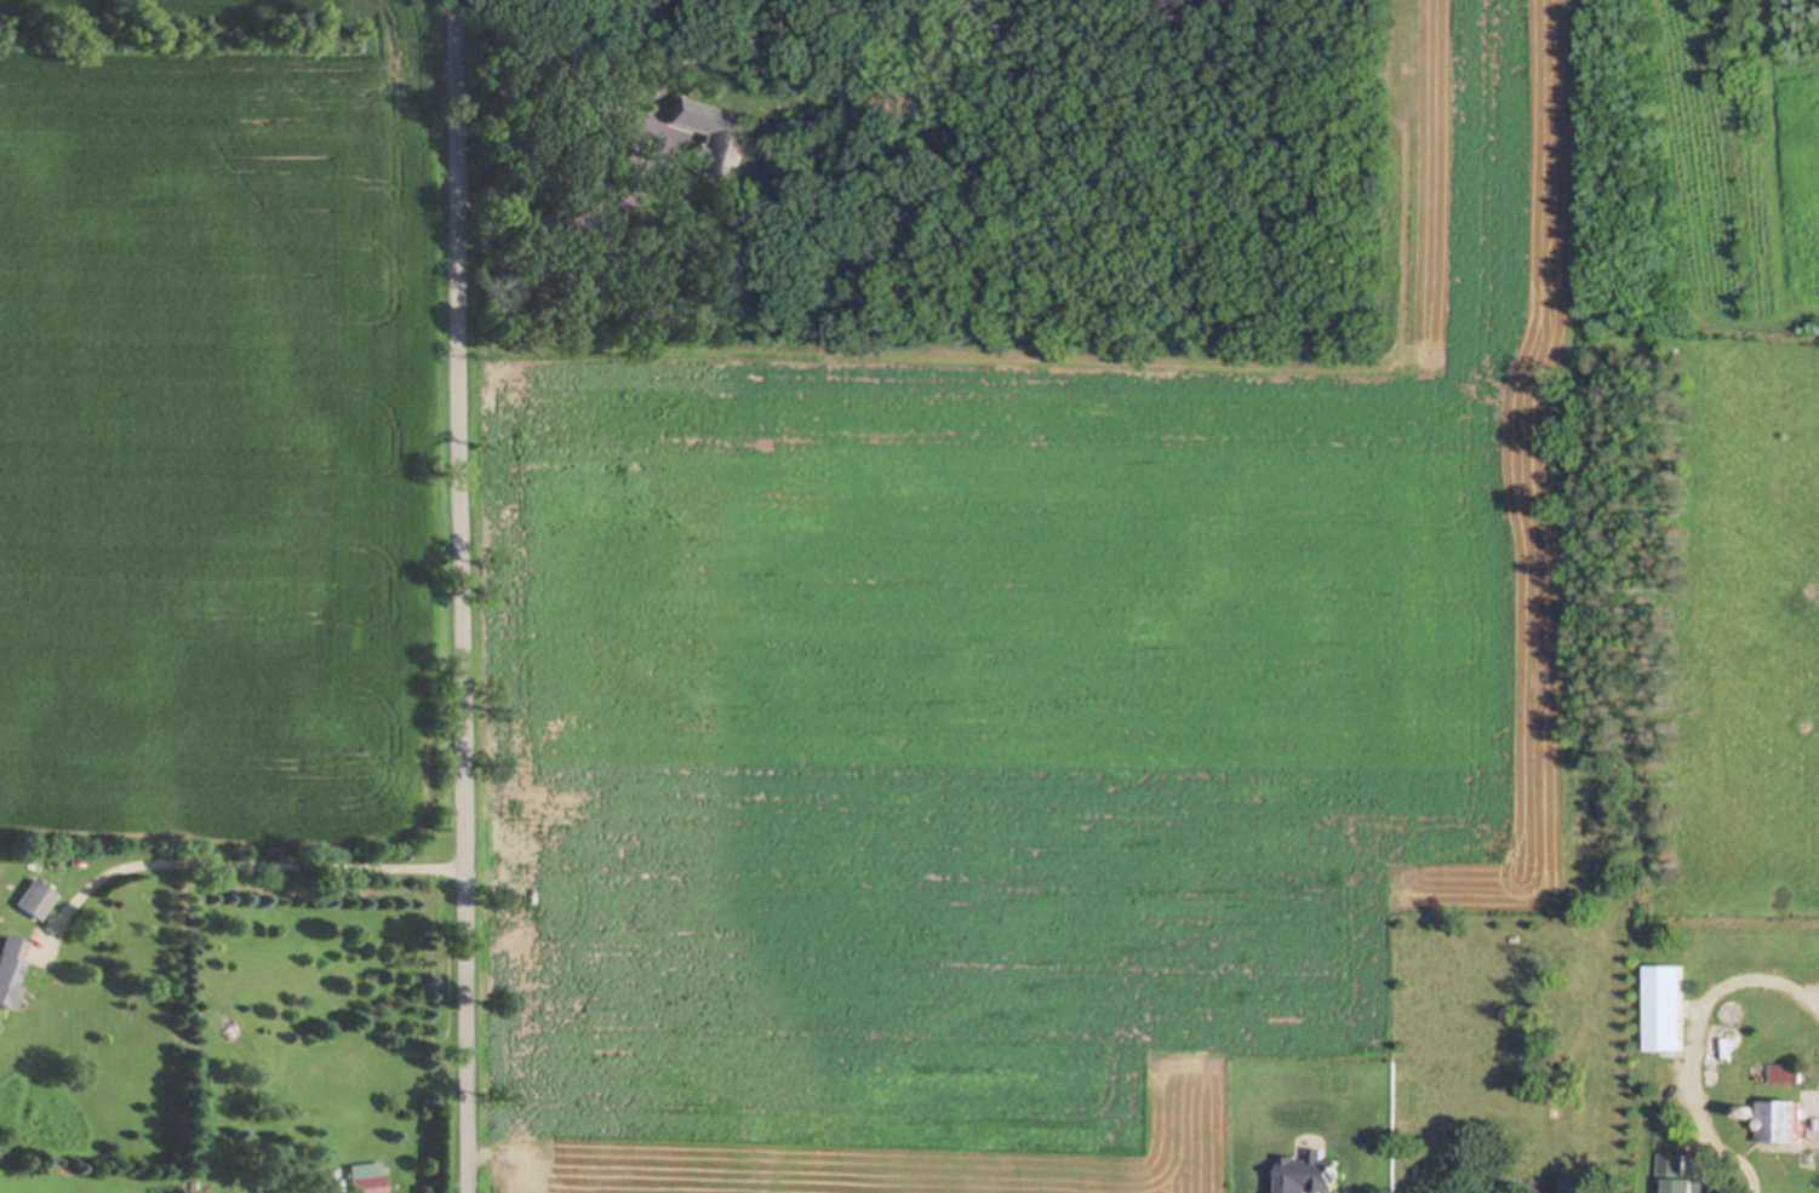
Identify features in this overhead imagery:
road: (450, 596)
road: (223, 860)
building: (33, 899)
building: (8, 965)
building: (1663, 1006)
road: (1697, 1042)
building: (1778, 1120)
building: (1675, 1175)
building: (361, 1178)

